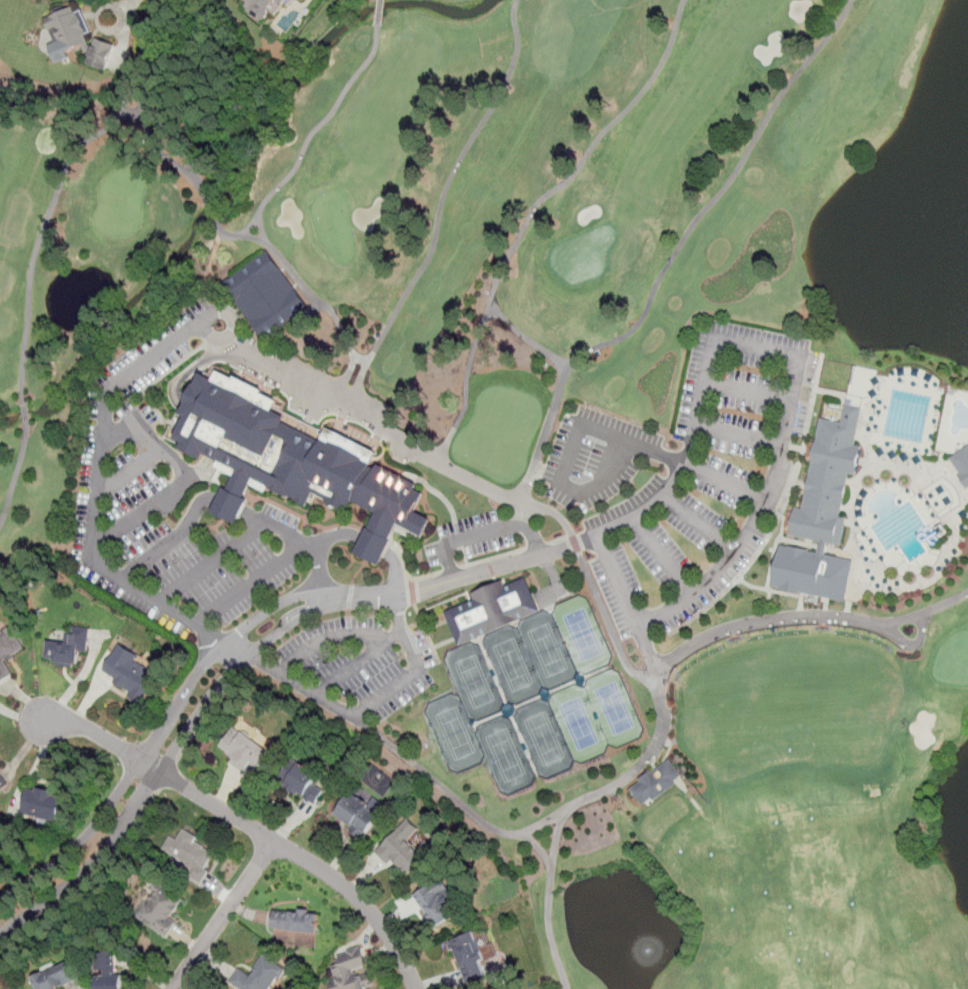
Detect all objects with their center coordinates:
building: (302, 1)
road: (120, 8)
building: (269, 9)
building: (81, 36)
road: (269, 197)
road: (441, 206)
road: (531, 214)
road: (676, 250)
building: (265, 294)
road: (197, 331)
road: (523, 335)
road: (750, 390)
road: (798, 391)
road: (597, 430)
road: (741, 436)
park: (554, 446)
building: (294, 460)
building: (961, 463)
road: (129, 471)
road: (182, 475)
building: (822, 513)
road: (189, 518)
road: (701, 523)
road: (285, 528)
road: (348, 536)
road: (476, 536)
road: (531, 536)
road: (312, 540)
road: (664, 556)
parking lot: (234, 565)
building: (492, 609)
road: (805, 614)
road: (606, 619)
road: (336, 635)
building: (69, 646)
building: (8, 649)
road: (238, 651)
park: (528, 656)
road: (355, 664)
building: (130, 672)
road: (366, 712)
road: (209, 713)
park: (560, 730)
park: (455, 732)
building: (243, 750)
road: (170, 777)
building: (300, 779)
building: (656, 781)
building: (2, 782)
building: (43, 802)
building: (359, 812)
road: (558, 812)
road: (253, 828)
building: (403, 847)
road: (539, 847)
building: (189, 854)
road: (92, 878)
road: (548, 901)
building: (435, 902)
building: (159, 907)
road: (222, 915)
building: (295, 920)
building: (470, 954)
building: (350, 970)
building: (107, 971)
building: (258, 975)
building: (56, 976)

